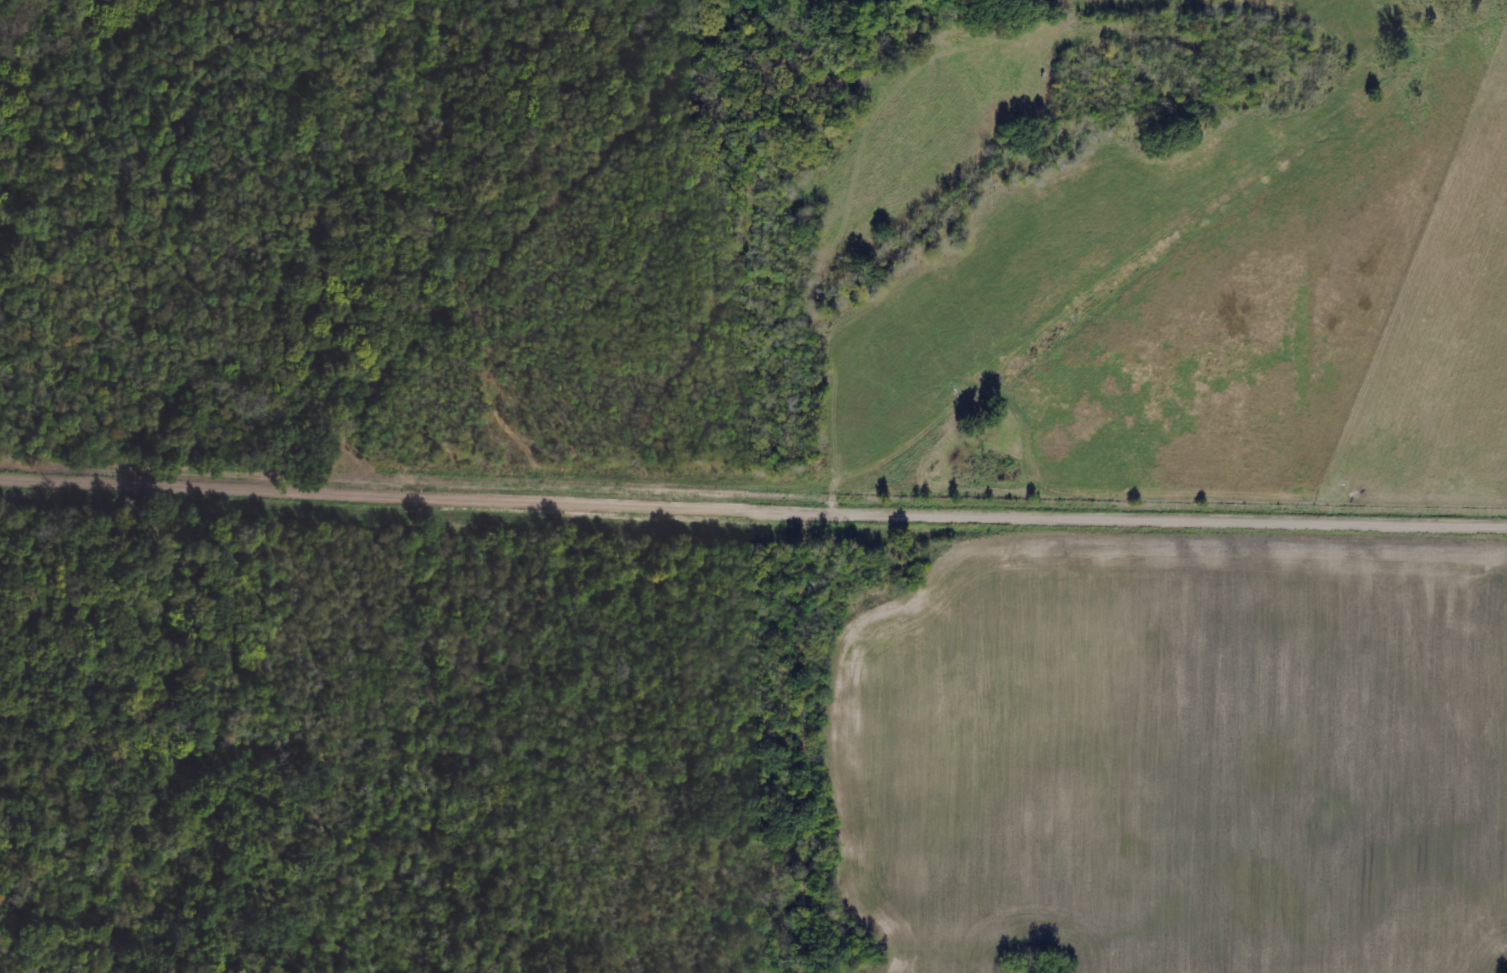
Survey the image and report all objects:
road: (753, 506)

